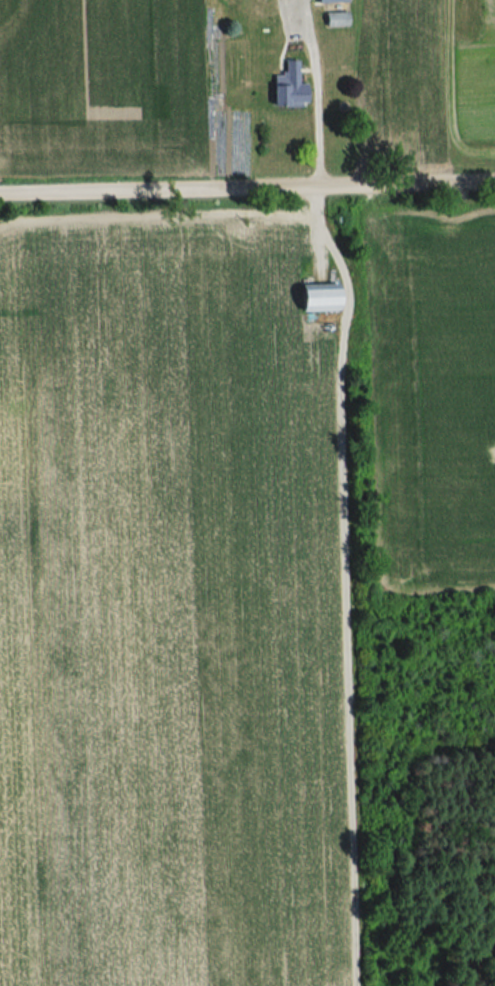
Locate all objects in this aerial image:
building: (329, 2)
crop: (404, 74)
crop: (476, 75)
crop: (102, 87)
building: (287, 88)
road: (314, 90)
road: (247, 185)
building: (315, 298)
crop: (431, 398)
crop: (168, 608)

